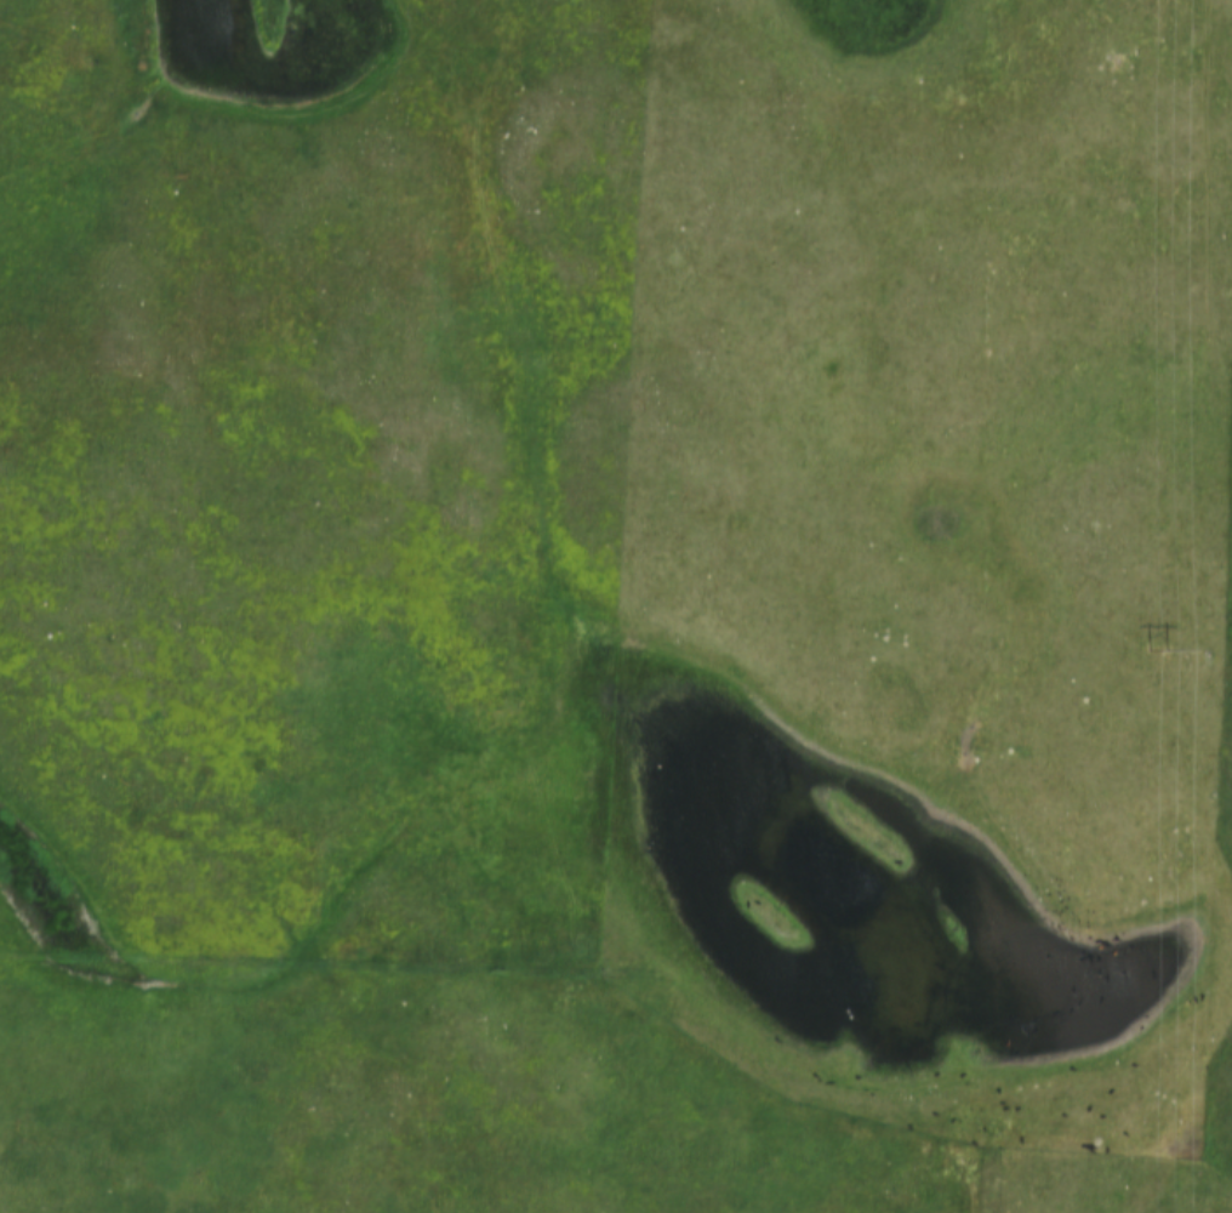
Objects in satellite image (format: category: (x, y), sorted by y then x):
power tower: (1157, 650)

